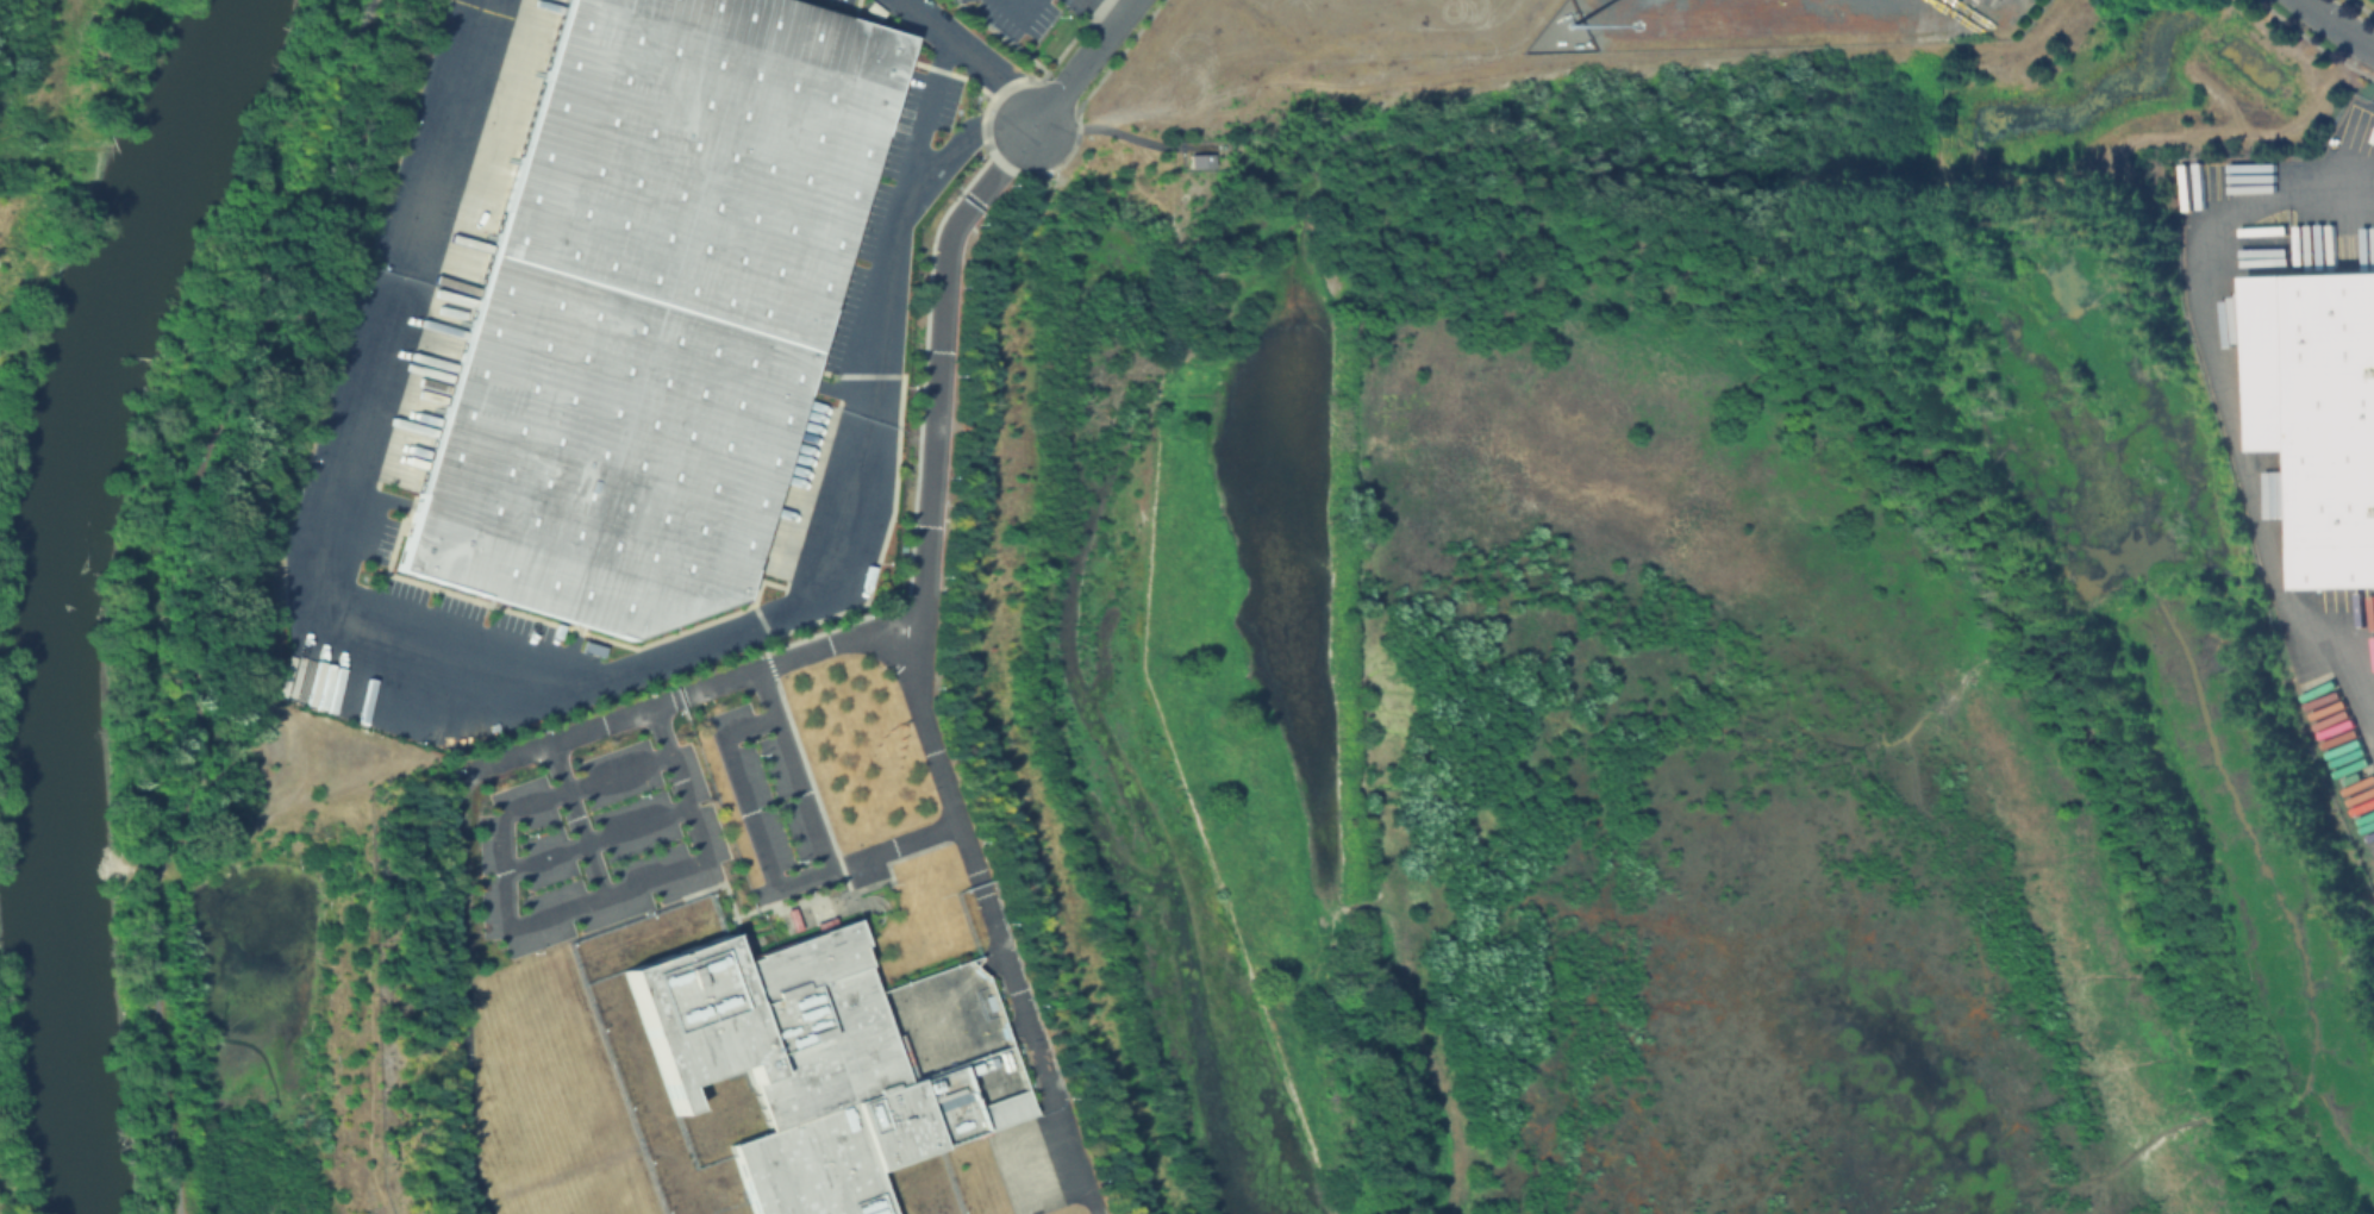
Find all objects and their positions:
road: (1106, 11)
road: (2341, 23)
road: (977, 58)
road: (1086, 65)
road: (1110, 130)
road: (442, 137)
road: (962, 139)
building: (1198, 159)
road: (1004, 168)
road: (2338, 194)
road: (900, 225)
building: (650, 307)
building: (2266, 362)
building: (2332, 431)
road: (2241, 439)
road: (931, 495)
road: (188, 593)
road: (504, 664)
road: (793, 769)
road: (680, 783)
road: (752, 807)
road: (576, 819)
road: (457, 839)
road: (596, 839)
road: (893, 845)
flagpole: (893, 882)
road: (506, 884)
flagpole: (883, 886)
road: (994, 920)
building: (824, 1059)

